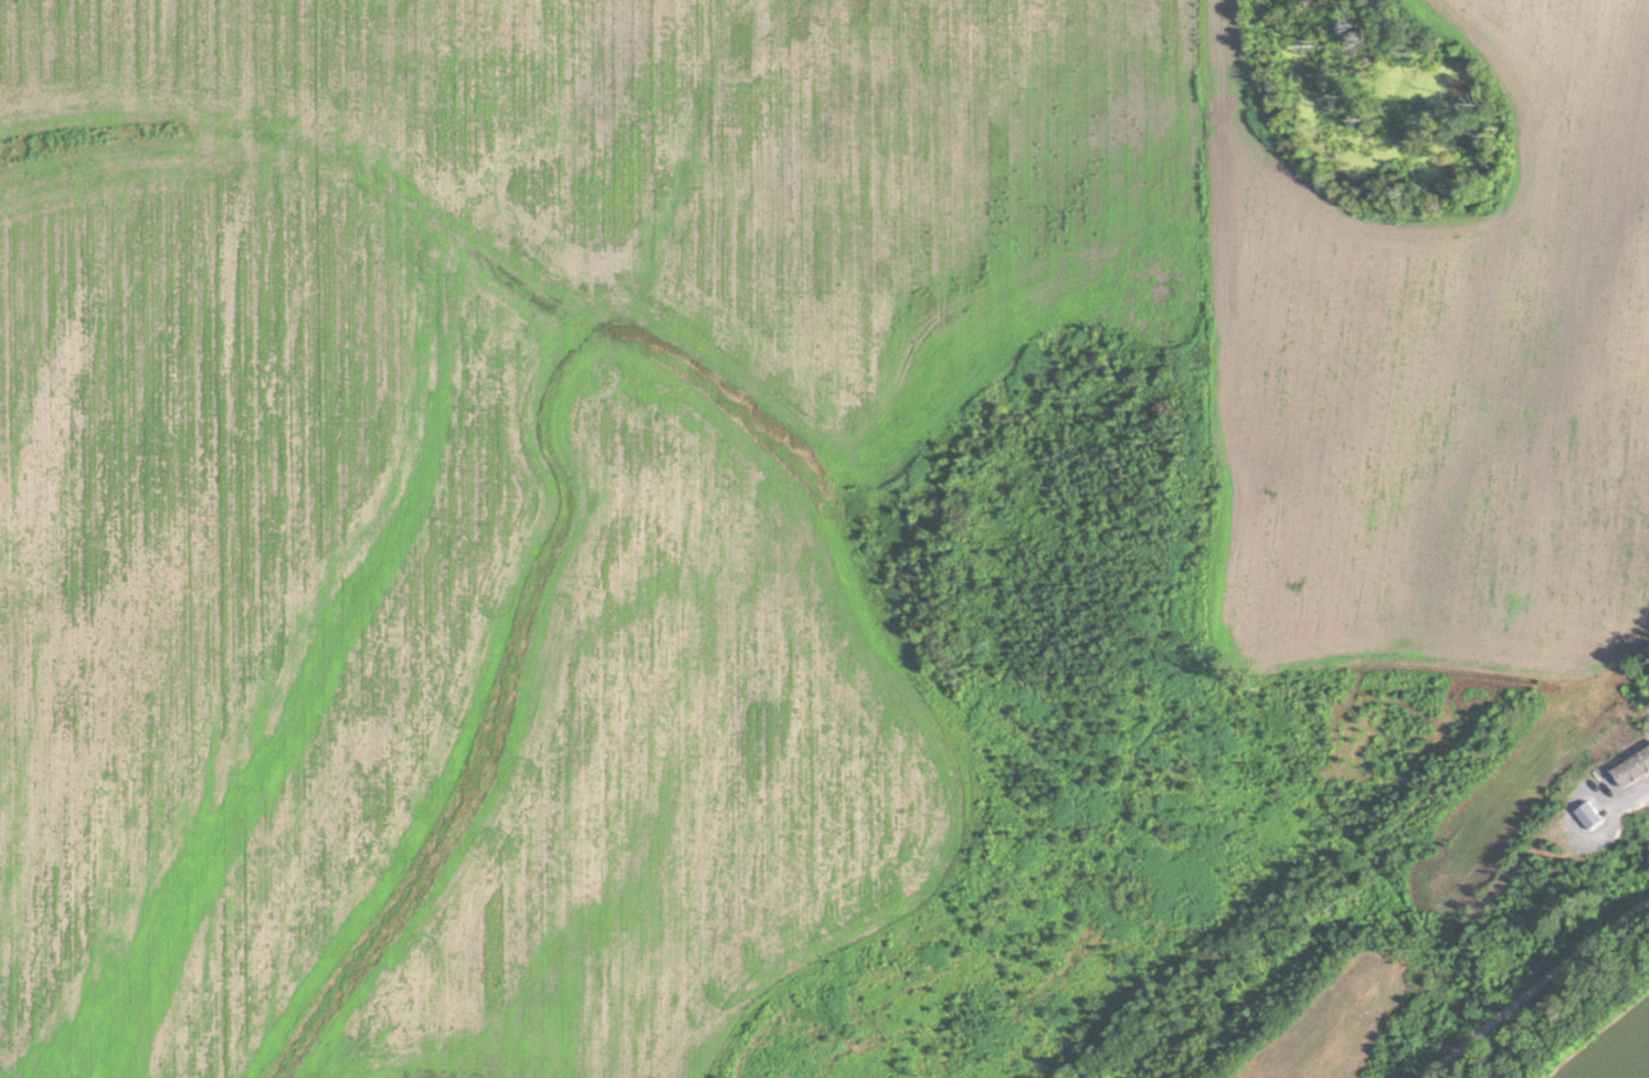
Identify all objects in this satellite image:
road: (1535, 985)

